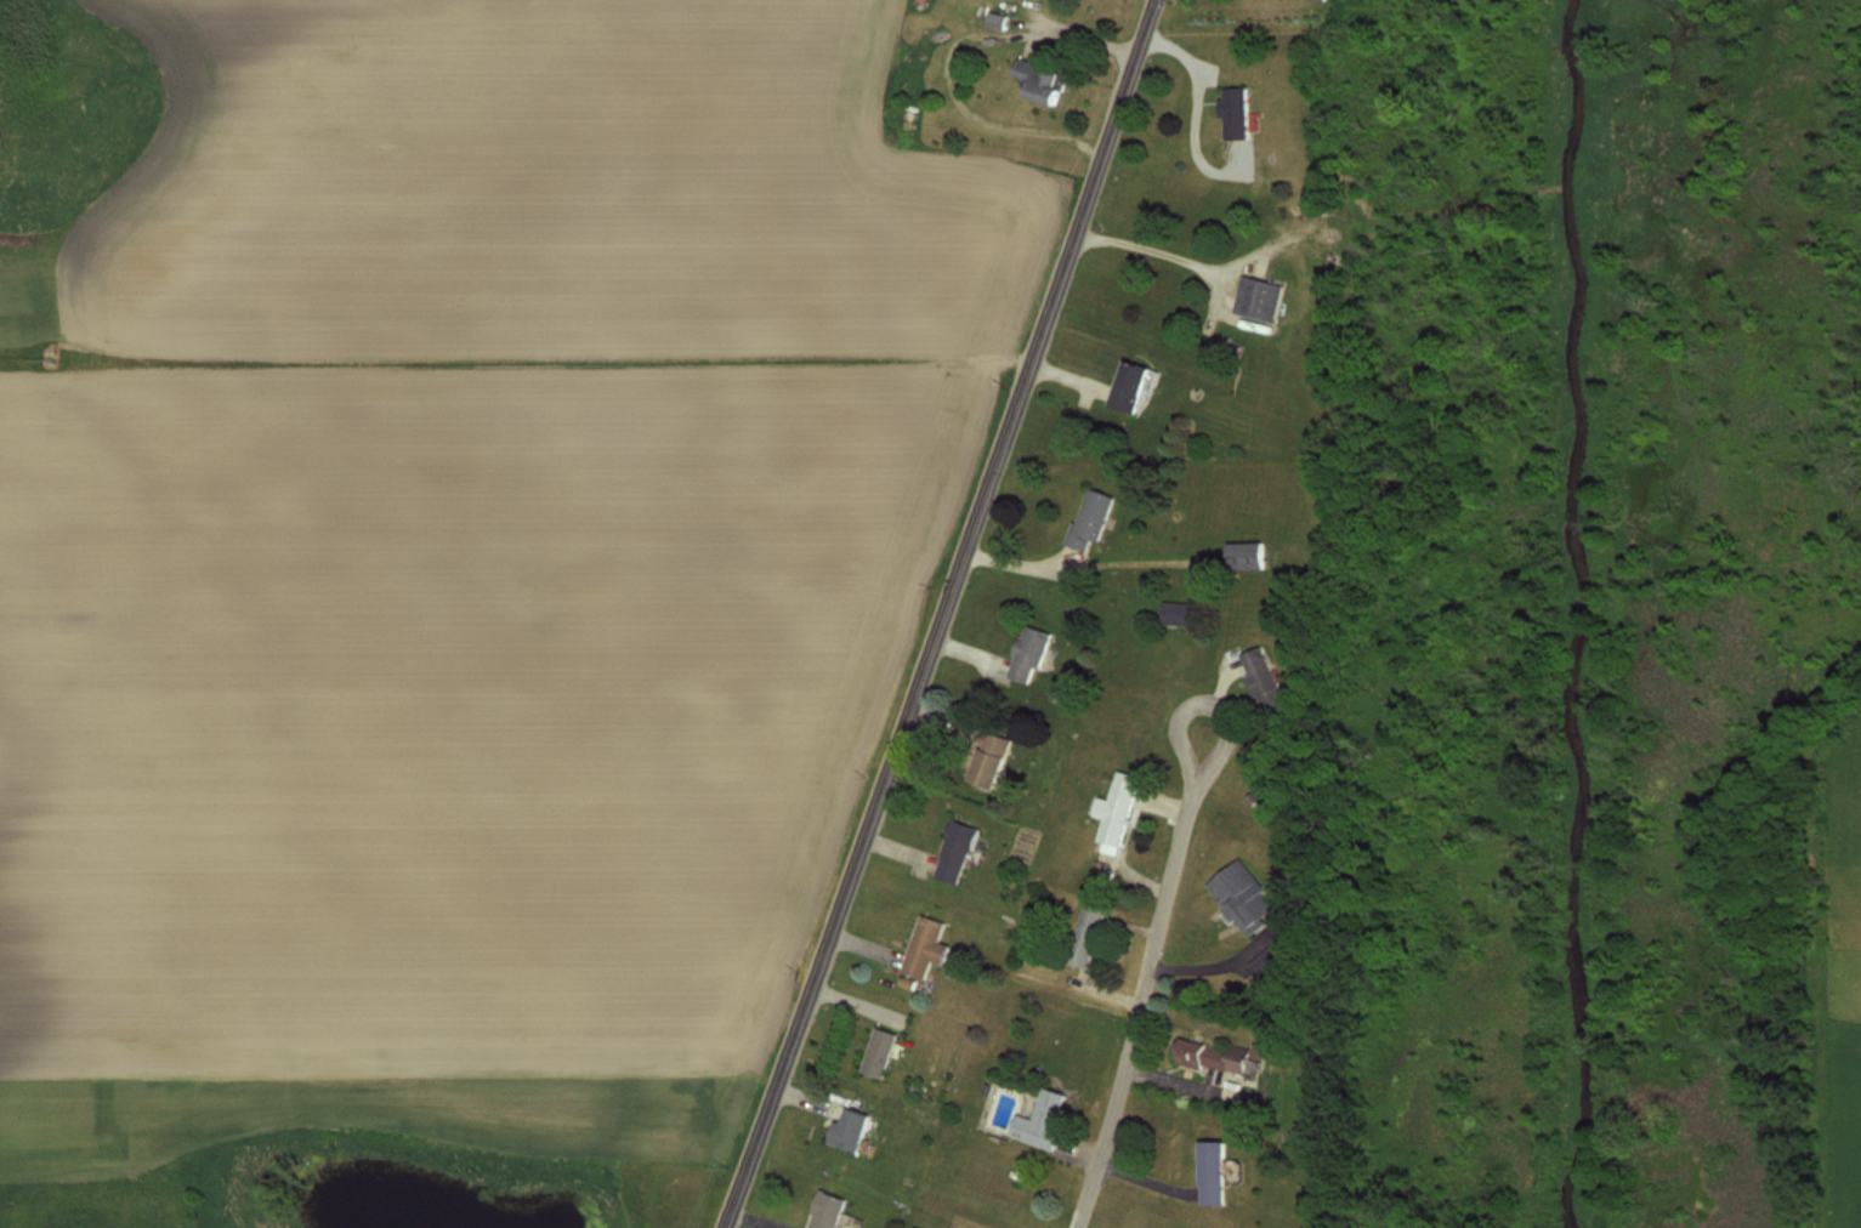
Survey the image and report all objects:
building: (997, 19)
road: (953, 55)
building: (1038, 80)
building: (1232, 113)
road: (1197, 114)
road: (1156, 250)
building: (1255, 297)
building: (1127, 387)
building: (1088, 518)
building: (1242, 555)
building: (1175, 612)
road: (943, 615)
building: (1026, 653)
building: (1259, 680)
road: (1186, 723)
building: (986, 760)
building: (1113, 811)
building: (952, 851)
building: (1239, 897)
building: (1083, 934)
building: (921, 946)
building: (1264, 962)
road: (1140, 1002)
building: (876, 1052)
building: (1219, 1058)
building: (1039, 1119)
building: (847, 1128)
building: (1209, 1172)
building: (822, 1210)

